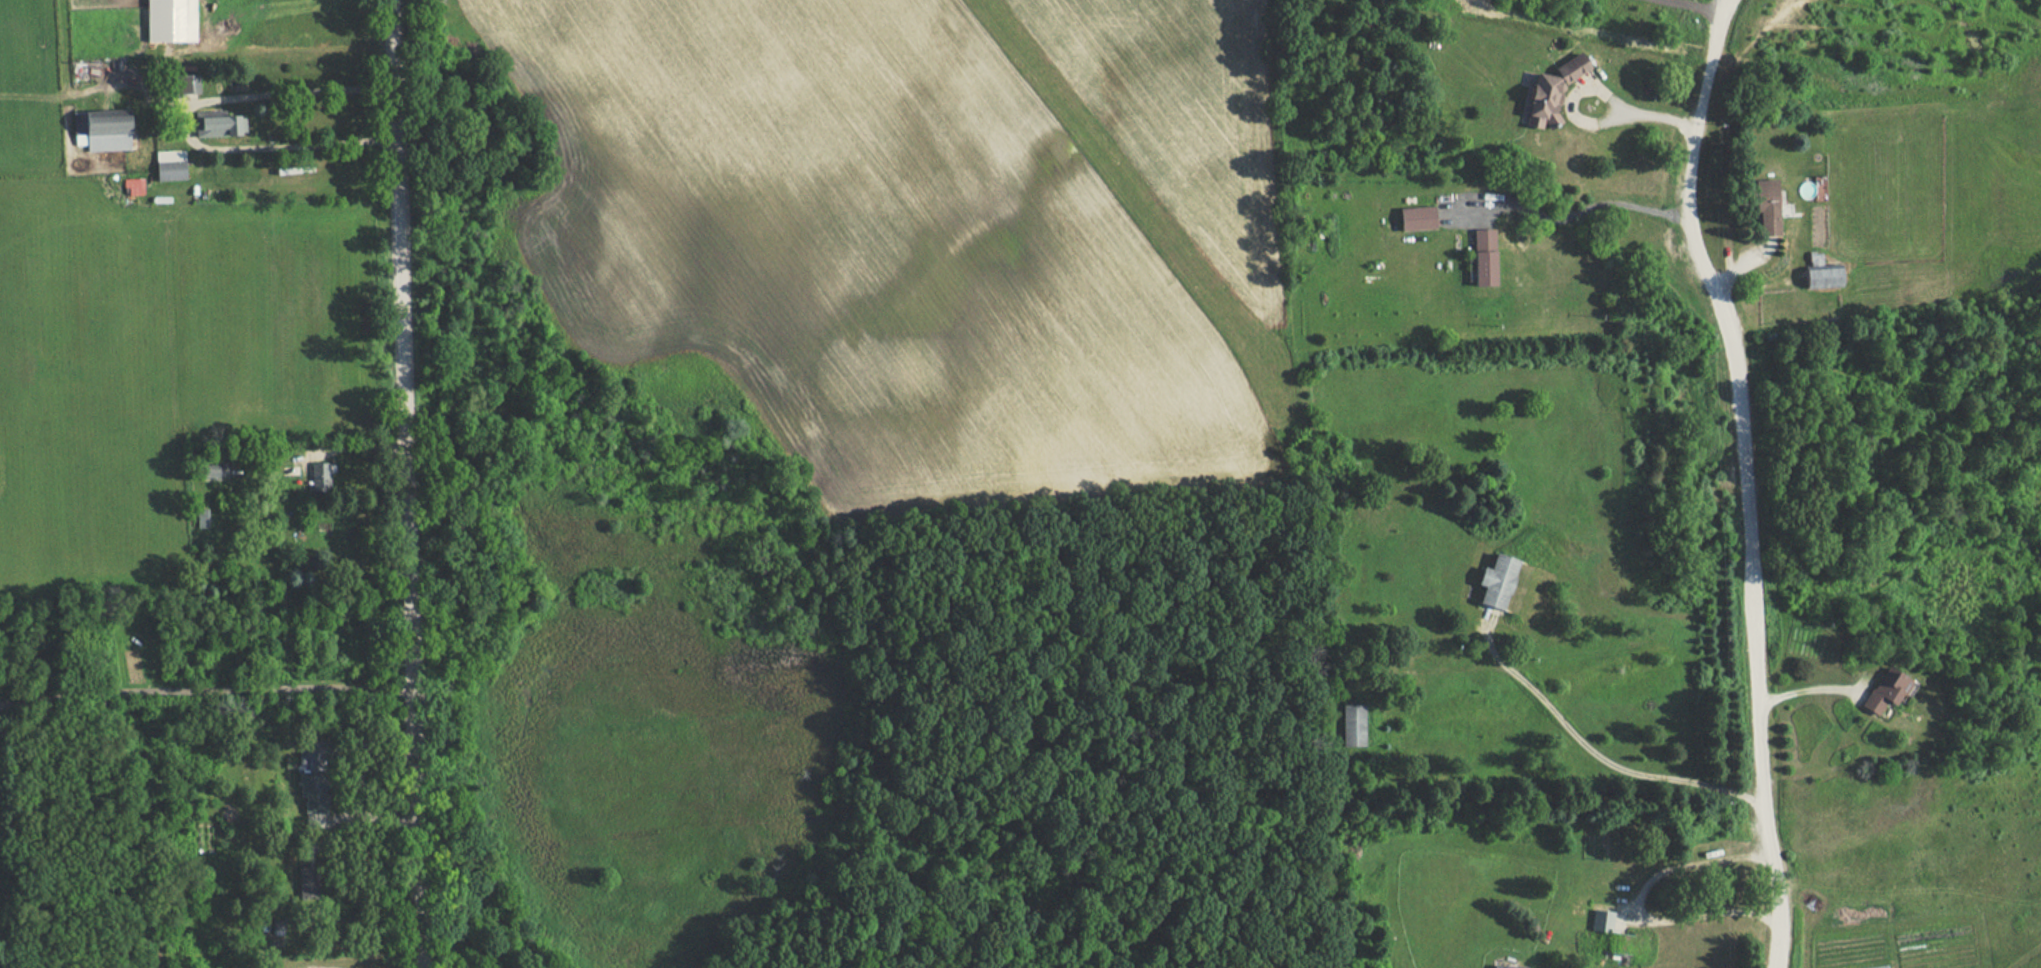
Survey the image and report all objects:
road: (1693, 5)
building: (172, 21)
building: (1553, 90)
crop: (1177, 114)
road: (1584, 123)
building: (222, 124)
road: (186, 125)
building: (105, 130)
building: (171, 164)
building: (1773, 207)
road: (1561, 218)
building: (1416, 219)
crop: (863, 245)
building: (1483, 257)
road: (1743, 266)
building: (1823, 278)
building: (320, 476)
road: (1743, 477)
road: (397, 484)
building: (1496, 581)
road: (201, 682)
road: (1812, 690)
building: (1886, 691)
building: (1352, 726)
road: (1593, 754)
building: (314, 774)
road: (1677, 868)
building: (307, 882)
road: (1702, 917)
building: (1602, 922)
building: (1509, 967)
building: (1882, 967)

